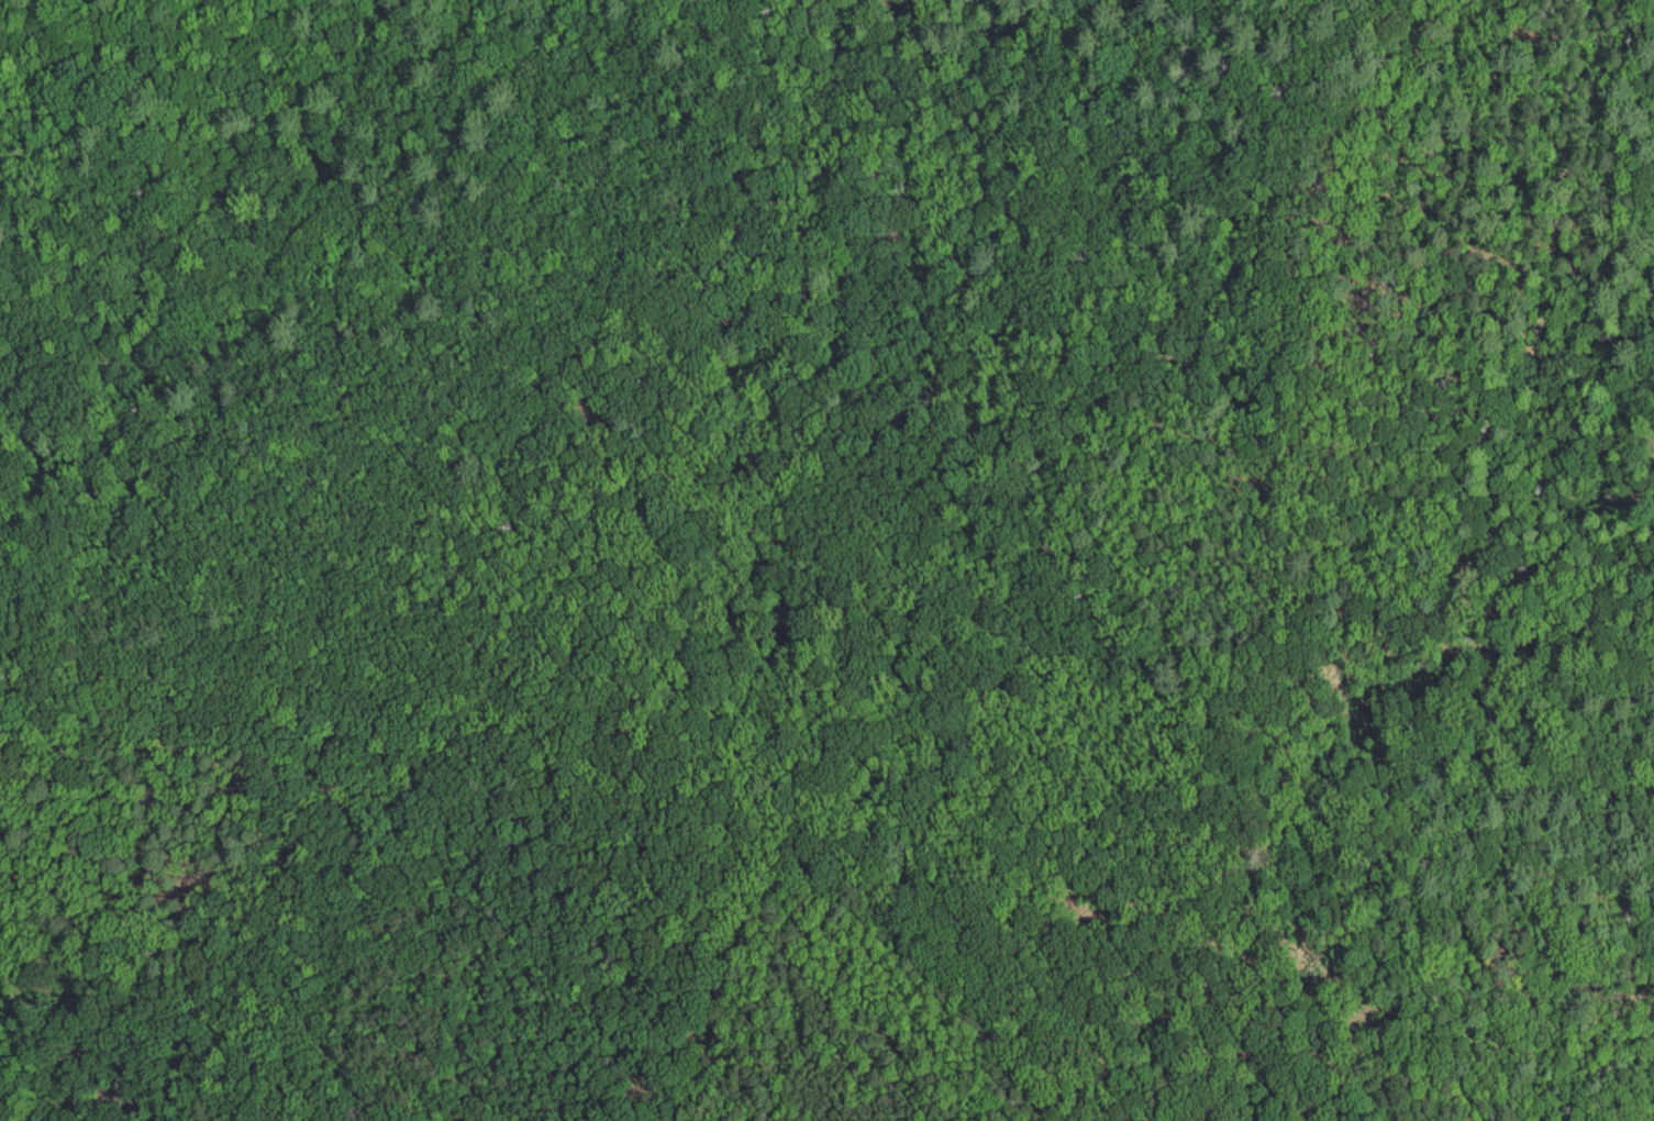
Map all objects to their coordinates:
road: (1647, 13)
road: (1569, 81)
road: (1434, 148)
road: (1536, 389)
road: (1262, 655)
road: (297, 702)
road: (321, 818)
road: (626, 953)
road: (542, 973)
road: (688, 1100)

